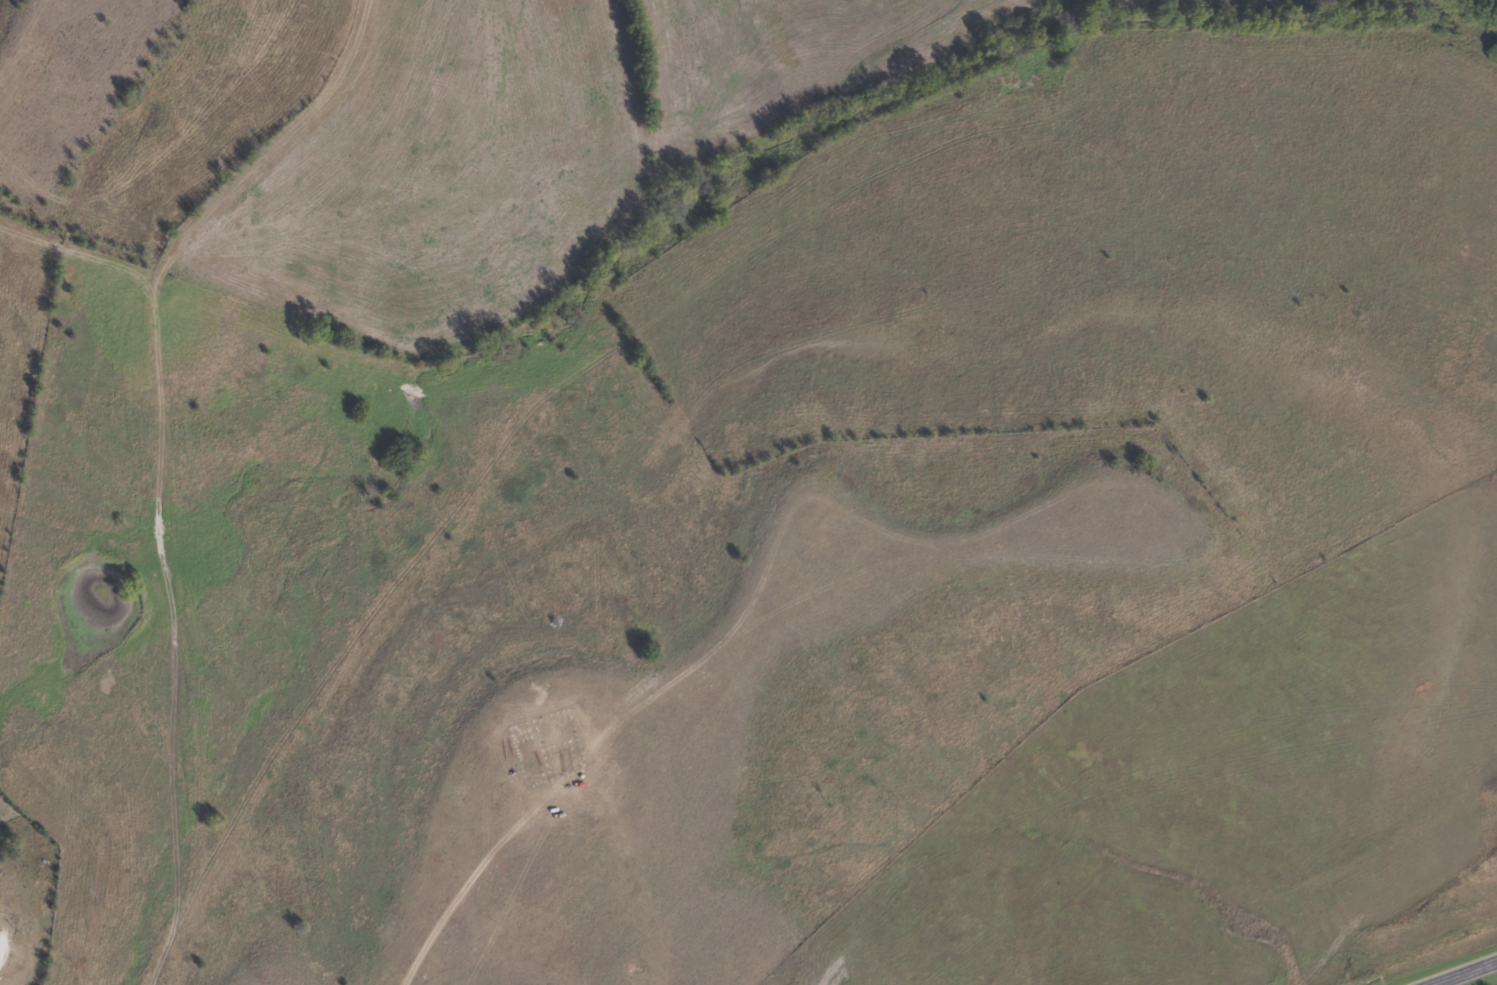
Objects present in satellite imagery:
road: (1462, 972)

